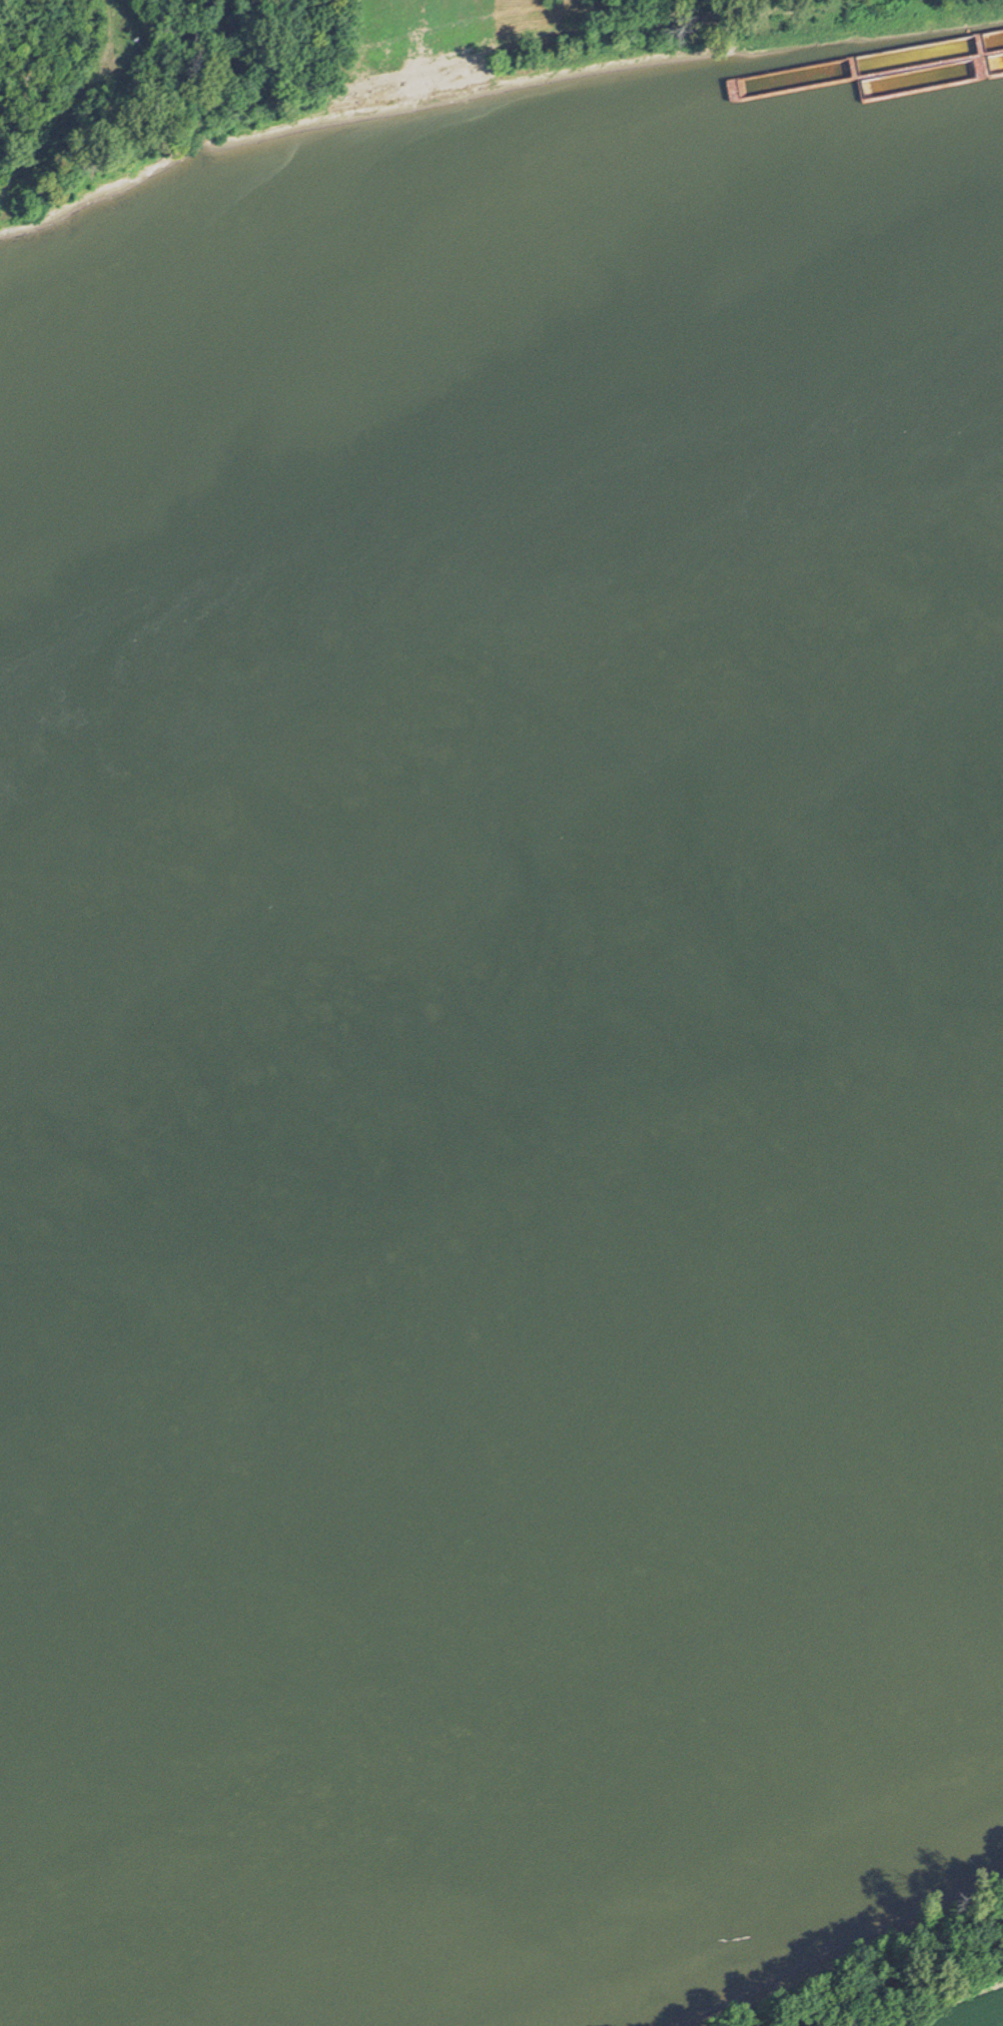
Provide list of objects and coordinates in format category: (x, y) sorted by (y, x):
road: (112, 62)
road: (78, 107)
river: (498, 1069)

